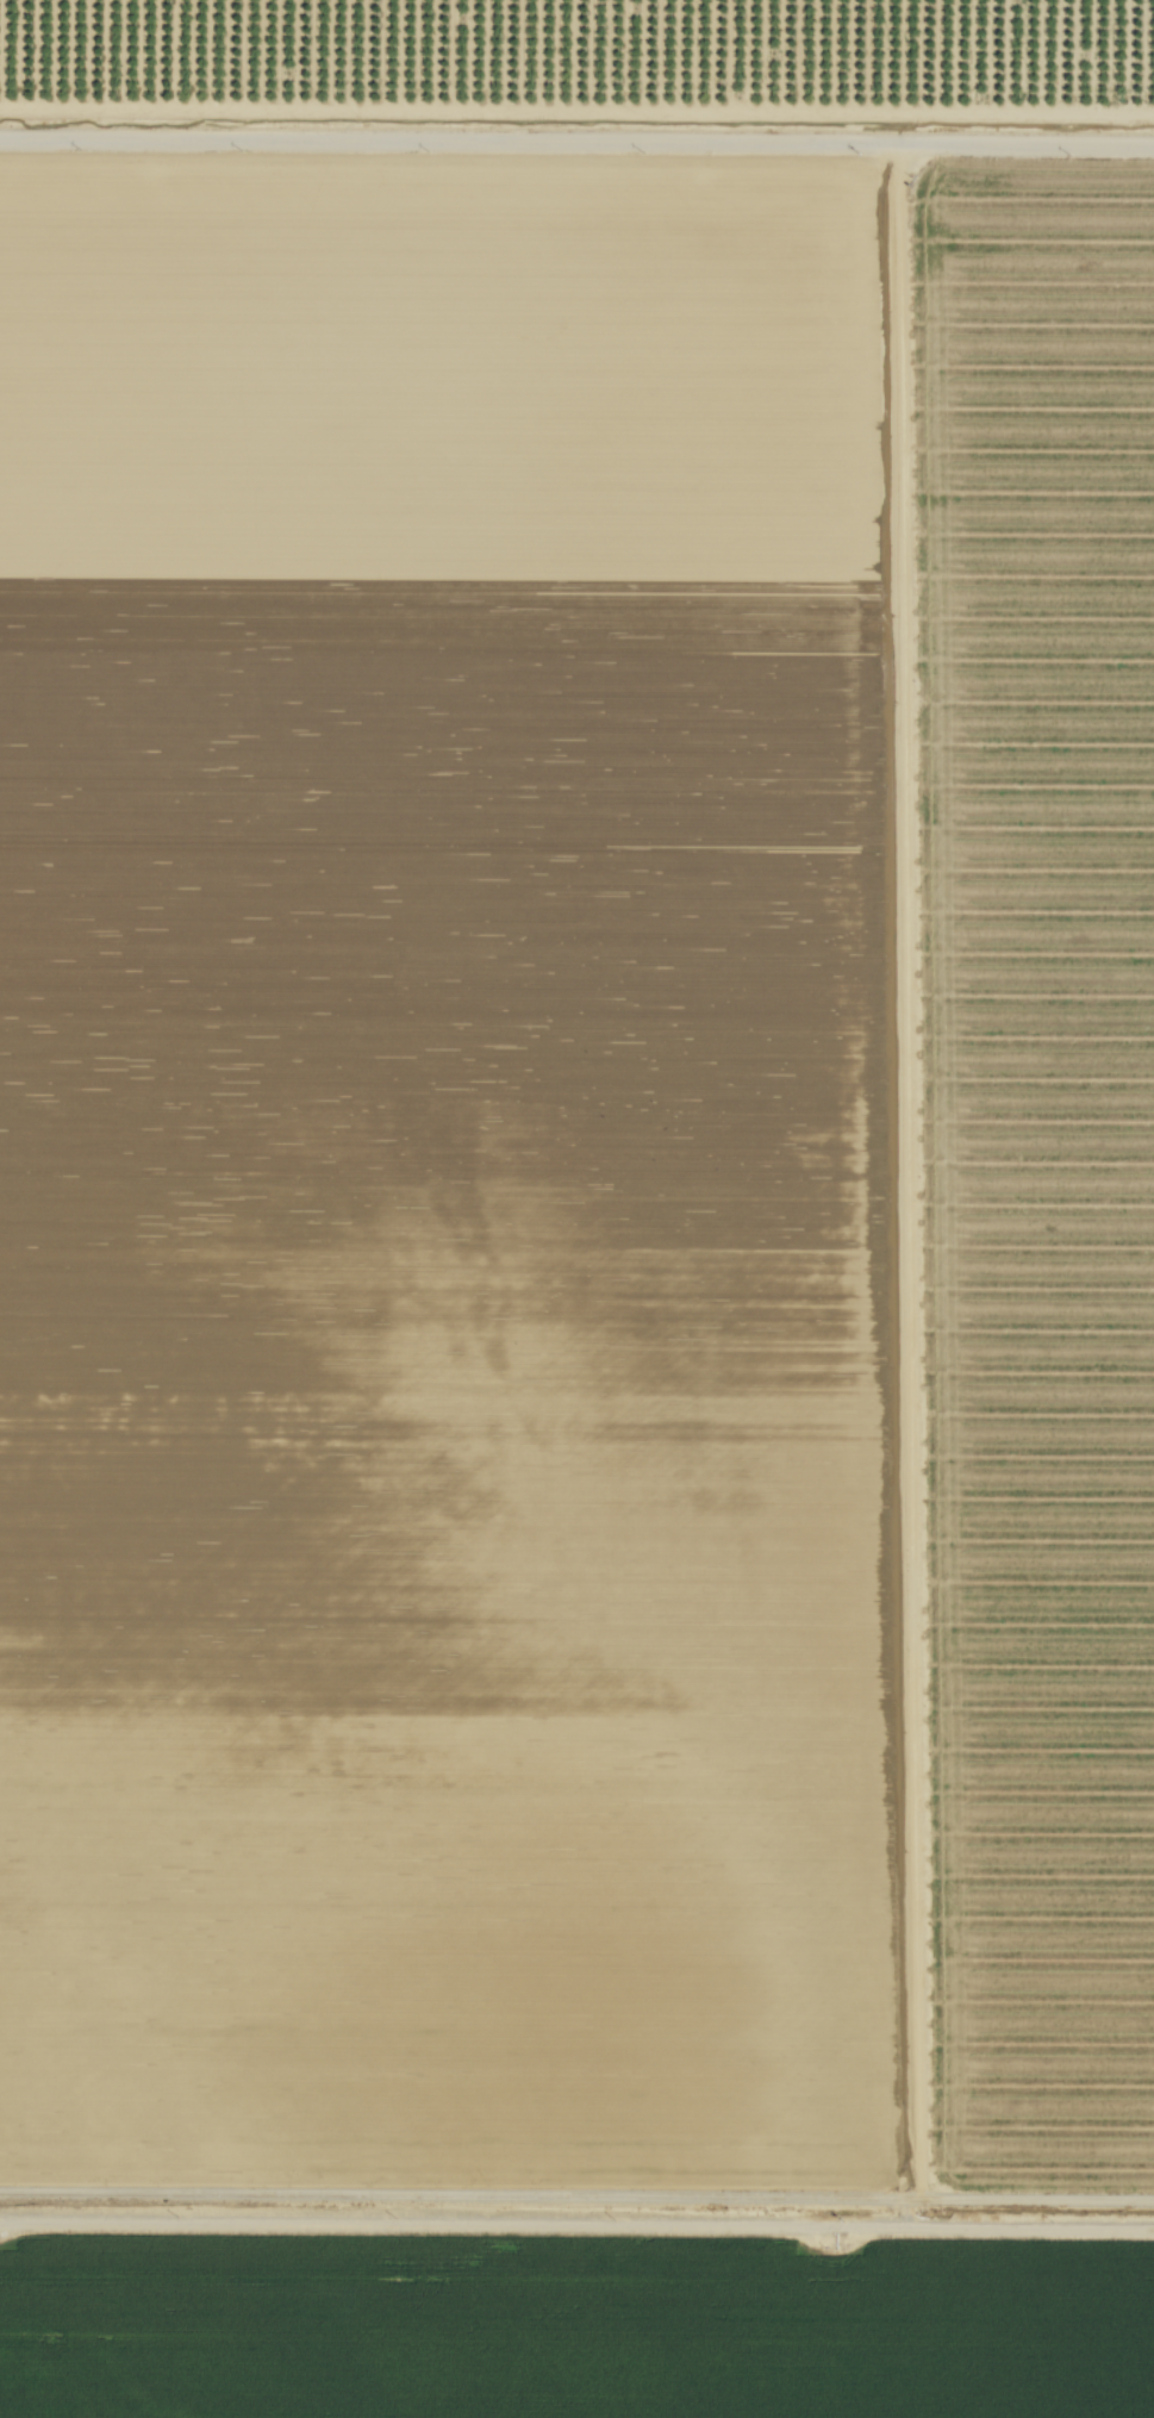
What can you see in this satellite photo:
road: (576, 141)

